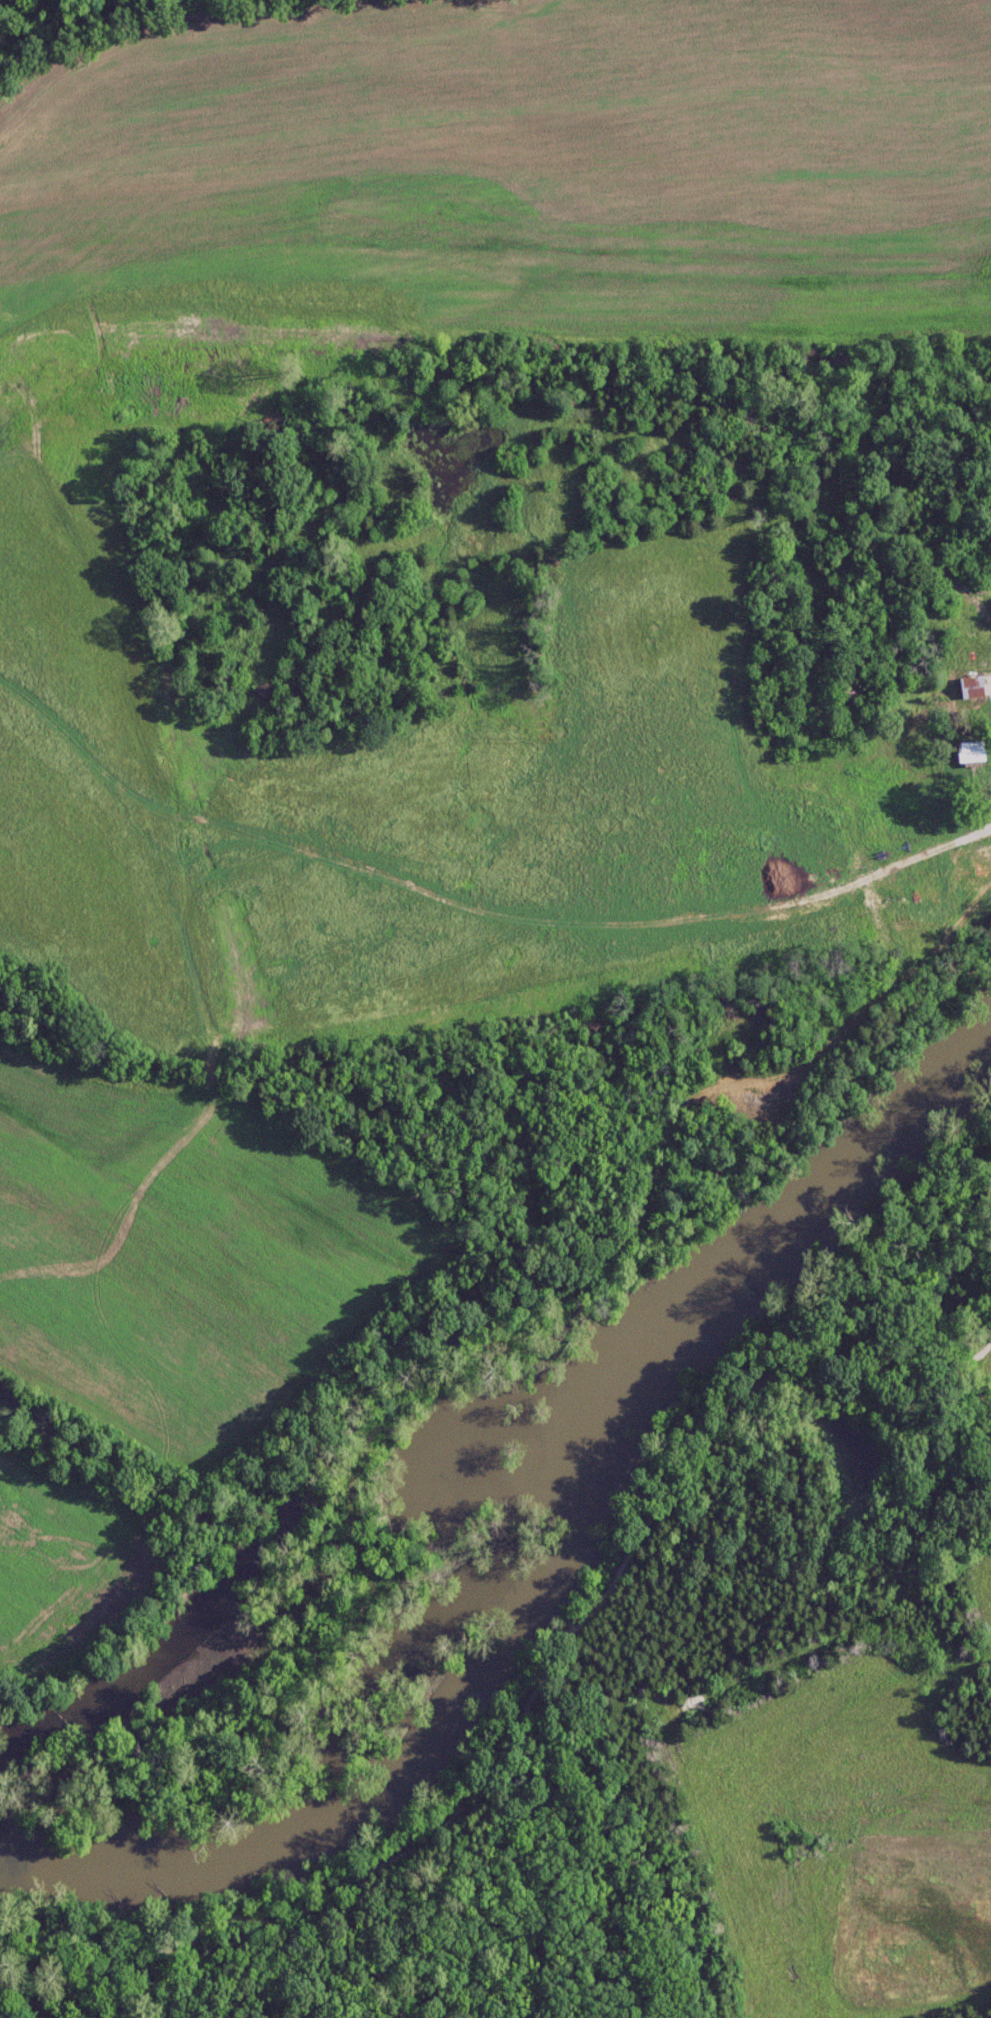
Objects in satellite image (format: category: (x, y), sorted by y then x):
building: (966, 687)
building: (968, 752)
road: (926, 851)

